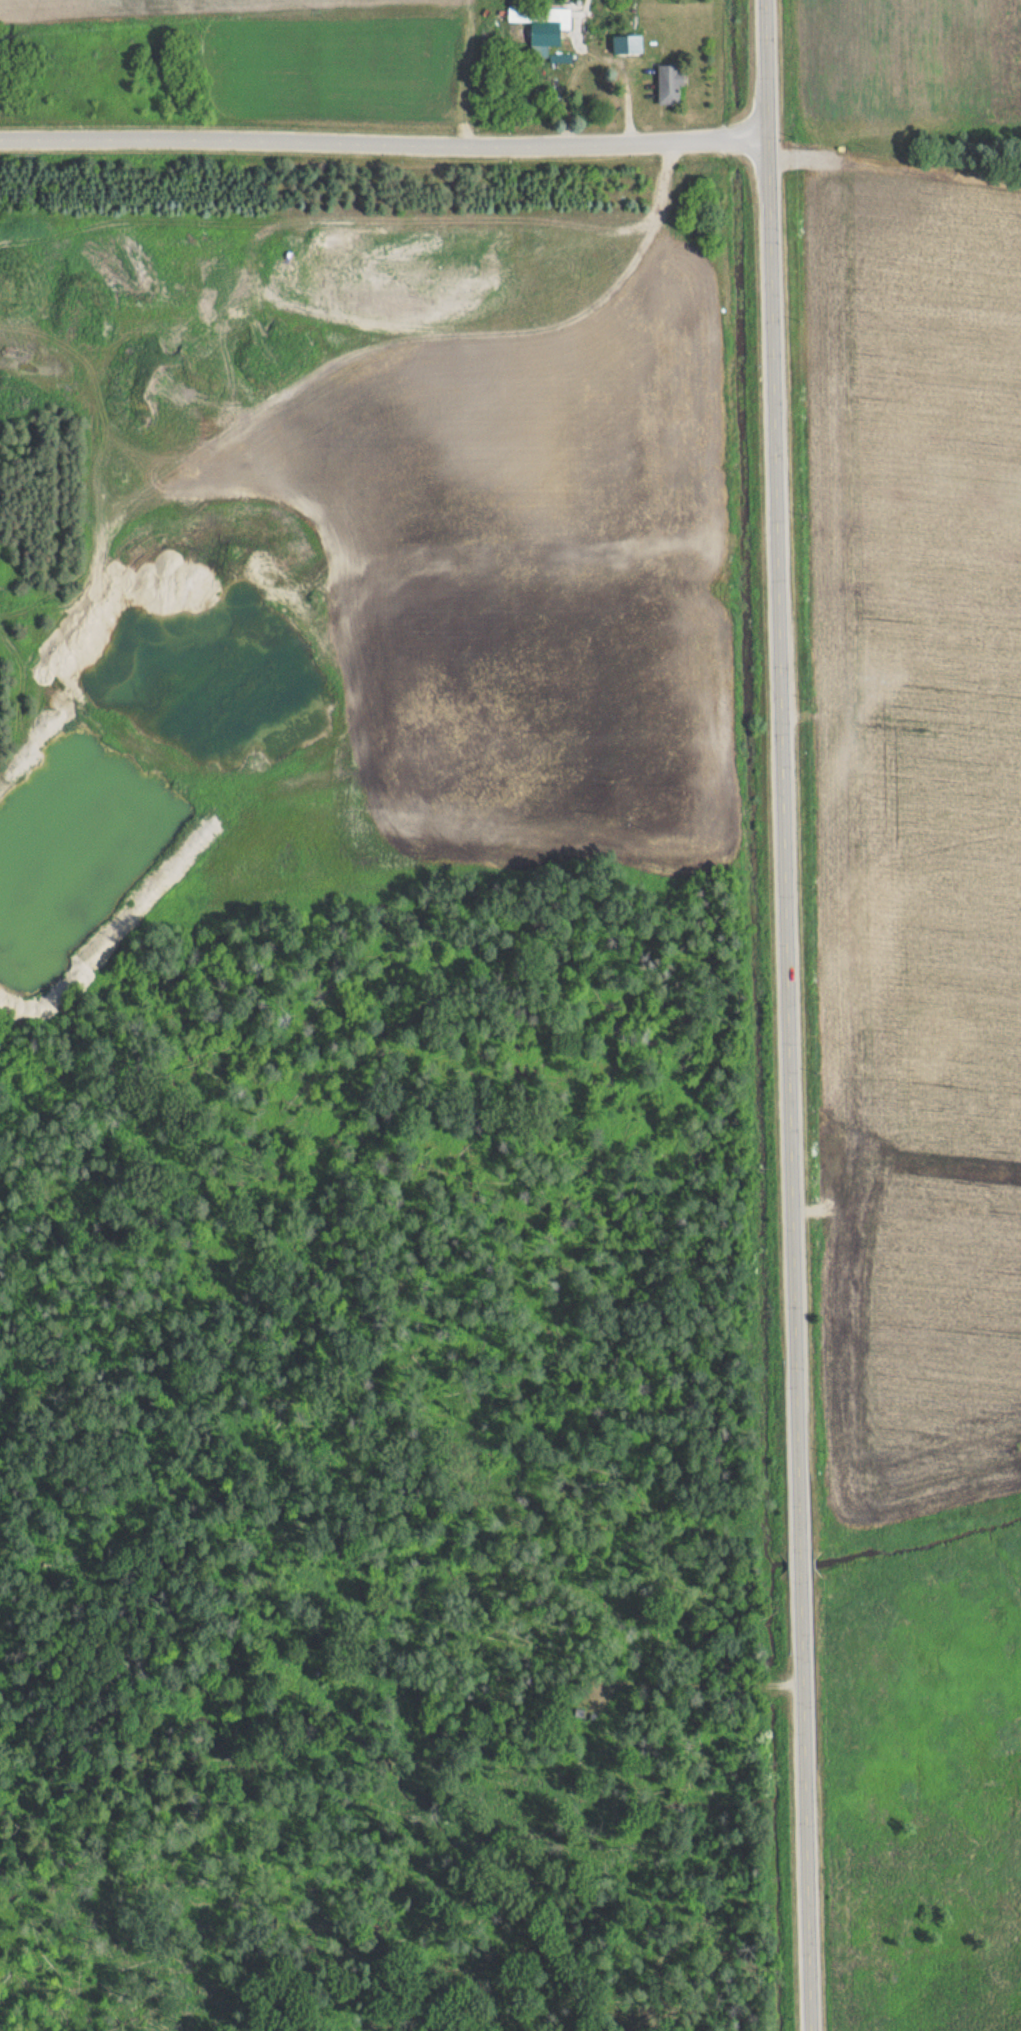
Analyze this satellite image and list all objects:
building: (541, 26)
building: (623, 45)
road: (601, 59)
building: (669, 84)
road: (382, 143)
road: (792, 1015)

